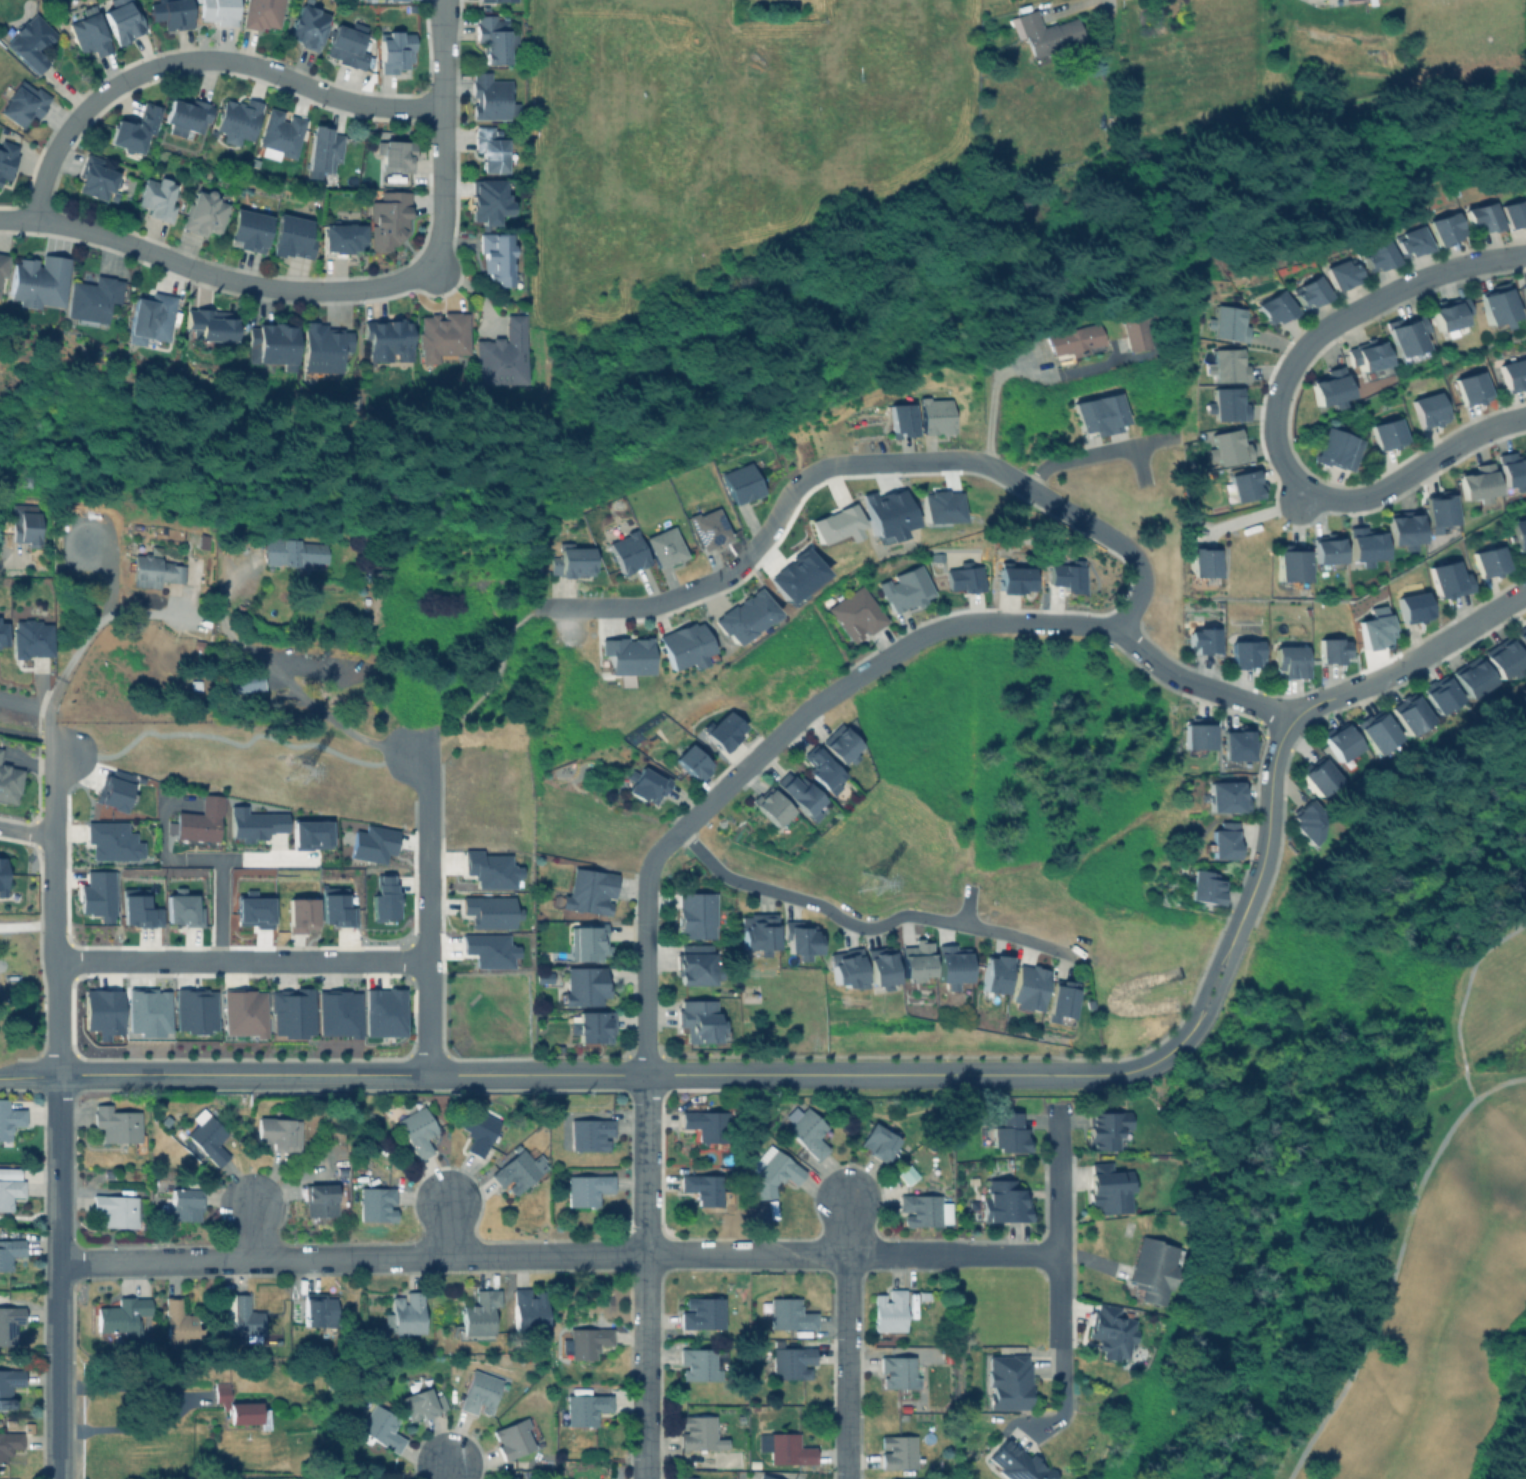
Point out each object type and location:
building: (404, 0)
building: (495, 0)
building: (1353, 1)
road: (1080, 5)
building: (218, 11)
building: (170, 13)
building: (262, 14)
building: (122, 20)
building: (306, 27)
building: (1044, 32)
building: (89, 35)
building: (493, 38)
building: (30, 42)
building: (345, 47)
building: (394, 52)
road: (198, 58)
building: (490, 97)
building: (22, 103)
building: (185, 116)
building: (237, 121)
building: (134, 129)
road: (444, 132)
building: (279, 135)
building: (489, 150)
building: (322, 151)
building: (394, 155)
building: (6, 158)
building: (95, 179)
building: (156, 199)
building: (489, 201)
building: (204, 213)
building: (1514, 216)
building: (388, 220)
building: (1482, 221)
building: (248, 230)
building: (1445, 232)
building: (292, 237)
building: (341, 238)
building: (1410, 244)
building: (497, 258)
building: (1378, 259)
building: (2, 264)
road: (214, 272)
building: (1342, 276)
building: (38, 281)
building: (1524, 292)
building: (1309, 294)
building: (92, 298)
road: (1373, 302)
building: (1275, 310)
building: (1496, 310)
building: (1448, 315)
building: (151, 317)
building: (1229, 323)
building: (211, 324)
building: (1135, 333)
building: (441, 338)
building: (1404, 338)
building: (386, 339)
building: (1075, 340)
building: (270, 345)
building: (322, 347)
building: (501, 355)
building: (1369, 361)
building: (1227, 365)
building: (1514, 377)
building: (1328, 388)
building: (1470, 390)
road: (991, 400)
building: (1226, 404)
building: (1428, 413)
building: (1100, 414)
building: (935, 416)
building: (901, 420)
building: (1386, 436)
building: (1227, 447)
building: (1336, 447)
road: (1095, 454)
road: (973, 460)
building: (1513, 470)
building: (1475, 481)
building: (740, 483)
building: (1243, 485)
road: (798, 486)
road: (1380, 489)
building: (939, 506)
building: (1437, 510)
building: (885, 513)
road: (1253, 515)
building: (835, 524)
building: (25, 525)
building: (707, 528)
building: (1402, 529)
building: (1519, 534)
road: (1107, 535)
building: (1364, 545)
building: (664, 547)
building: (1326, 551)
building: (295, 552)
building: (627, 552)
building: (571, 562)
building: (1490, 562)
building: (1202, 564)
road: (17, 565)
building: (1289, 565)
building: (154, 571)
building: (1068, 576)
building: (963, 579)
building: (1013, 579)
building: (1448, 580)
building: (904, 589)
road: (640, 607)
building: (1413, 607)
building: (856, 614)
building: (744, 616)
road: (89, 631)
building: (2, 633)
building: (1201, 636)
building: (1522, 638)
building: (28, 639)
building: (684, 645)
building: (1331, 651)
building: (1244, 654)
building: (626, 655)
building: (1503, 657)
road: (1409, 660)
building: (1289, 661)
road: (865, 672)
building: (1472, 677)
building: (241, 681)
building: (1440, 694)
road: (319, 705)
road: (42, 711)
building: (1408, 714)
building: (722, 731)
building: (1375, 731)
building: (1197, 736)
building: (1337, 744)
building: (841, 745)
building: (1235, 745)
building: (0, 748)
road: (331, 749)
building: (691, 762)
building: (822, 770)
building: (1317, 776)
park: (1025, 779)
building: (8, 783)
power tower: (292, 783)
building: (645, 785)
building: (112, 793)
building: (799, 795)
building: (1226, 796)
building: (770, 806)
building: (199, 821)
building: (1306, 822)
building: (253, 824)
road: (25, 830)
building: (309, 834)
road: (1266, 839)
building: (111, 841)
building: (1225, 841)
building: (372, 844)
road: (203, 856)
building: (489, 869)
building: (2, 876)
building: (1203, 887)
power tower: (860, 889)
building: (588, 892)
building: (97, 895)
building: (383, 898)
road: (965, 906)
building: (336, 907)
road: (217, 908)
building: (138, 909)
building: (182, 909)
building: (253, 911)
road: (427, 911)
building: (489, 911)
road: (50, 913)
building: (300, 914)
building: (695, 915)
road: (864, 929)
building: (757, 932)
building: (799, 939)
building: (586, 943)
building: (489, 950)
road: (240, 960)
building: (915, 961)
building: (951, 966)
building: (880, 967)
building: (694, 968)
building: (846, 968)
building: (994, 974)
building: (584, 985)
building: (1027, 988)
building: (1059, 1000)
building: (194, 1010)
building: (102, 1012)
building: (147, 1012)
building: (290, 1012)
building: (382, 1012)
building: (242, 1013)
building: (337, 1013)
building: (698, 1020)
building: (592, 1026)
road: (403, 1074)
road: (920, 1076)
road: (29, 1077)
road: (1084, 1106)
building: (9, 1116)
building: (115, 1121)
building: (707, 1125)
building: (1108, 1127)
building: (417, 1129)
building: (478, 1129)
building: (807, 1129)
building: (277, 1131)
building: (1010, 1131)
building: (589, 1132)
building: (208, 1135)
building: (880, 1138)
building: (518, 1169)
building: (774, 1170)
building: (907, 1172)
road: (644, 1177)
building: (9, 1184)
road: (1057, 1185)
building: (703, 1186)
building: (587, 1187)
building: (1111, 1187)
building: (325, 1198)
building: (184, 1201)
building: (1005, 1201)
building: (376, 1202)
building: (115, 1208)
building: (924, 1208)
road: (447, 1230)
road: (249, 1232)
building: (9, 1249)
road: (1386, 1253)
road: (557, 1254)
building: (1155, 1267)
road: (56, 1278)
building: (925, 1294)
building: (530, 1310)
building: (318, 1311)
building: (404, 1311)
park: (1423, 1311)
building: (702, 1312)
building: (787, 1313)
building: (121, 1314)
building: (889, 1314)
building: (477, 1315)
building: (240, 1317)
building: (9, 1321)
building: (178, 1321)
building: (1113, 1330)
road: (848, 1339)
building: (585, 1341)
road: (1060, 1351)
building: (934, 1352)
building: (947, 1354)
building: (791, 1359)
building: (701, 1362)
building: (902, 1372)
building: (1010, 1381)
building: (8, 1384)
building: (483, 1389)
building: (452, 1392)
building: (418, 1398)
building: (439, 1401)
building: (239, 1406)
road: (179, 1407)
building: (584, 1408)
building: (380, 1427)
building: (699, 1432)
building: (512, 1438)
building: (9, 1442)
building: (785, 1447)
building: (899, 1451)
building: (1020, 1463)
road: (445, 1471)
building: (765, 1476)
building: (688, 1477)
building: (898, 1478)

